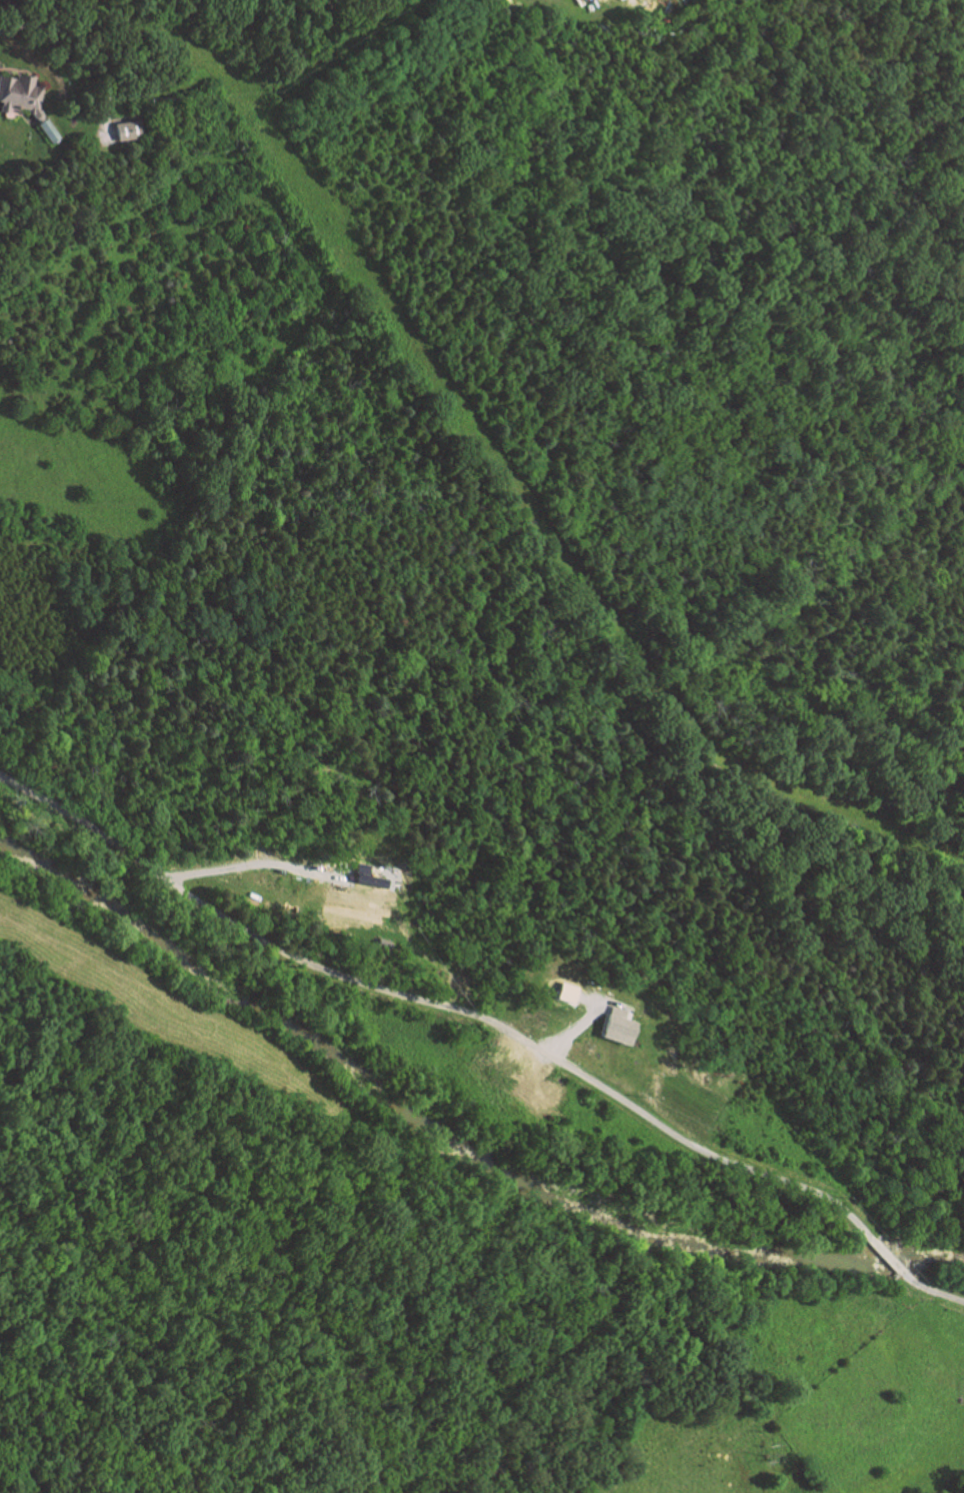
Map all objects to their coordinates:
road: (89, 49)
building: (19, 95)
building: (44, 130)
building: (125, 130)
road: (253, 863)
building: (374, 880)
building: (569, 992)
road: (438, 1004)
building: (620, 1025)
road: (577, 1028)
road: (887, 1255)
road: (932, 1290)

